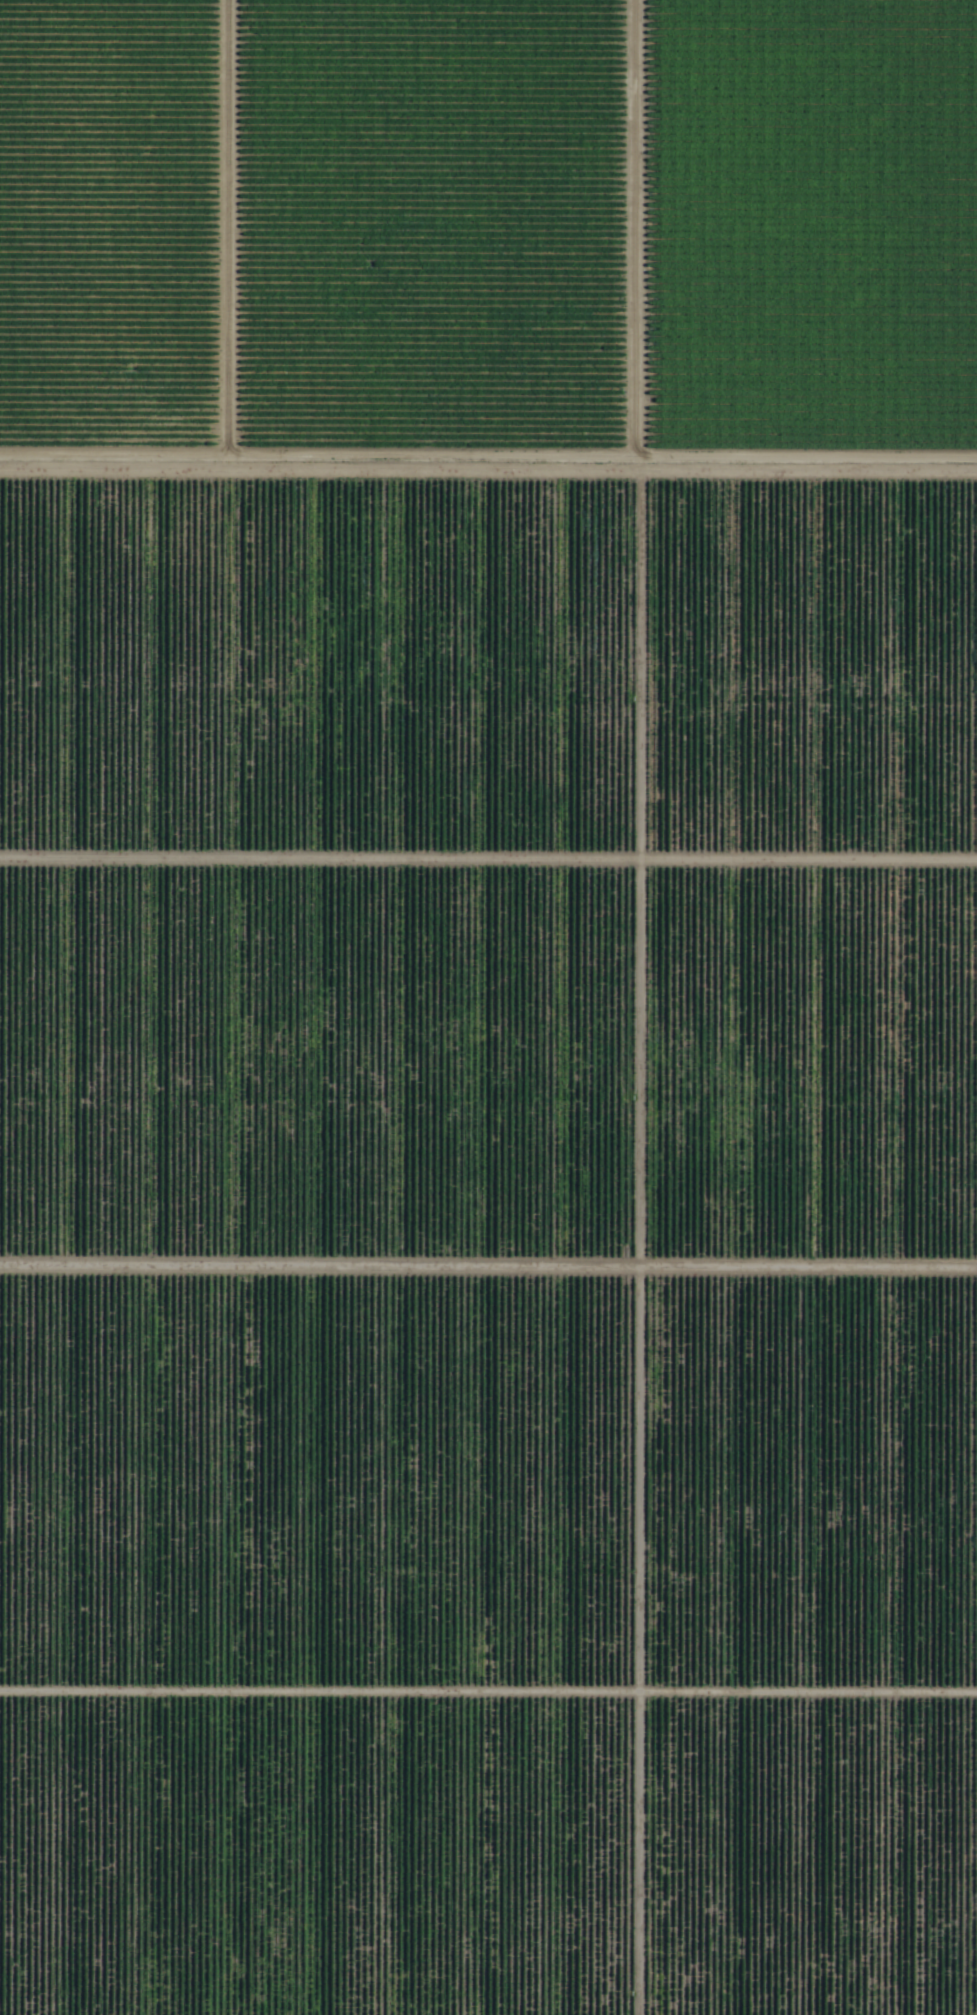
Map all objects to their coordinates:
road: (488, 496)
road: (420, 994)
crop: (488, 1007)

